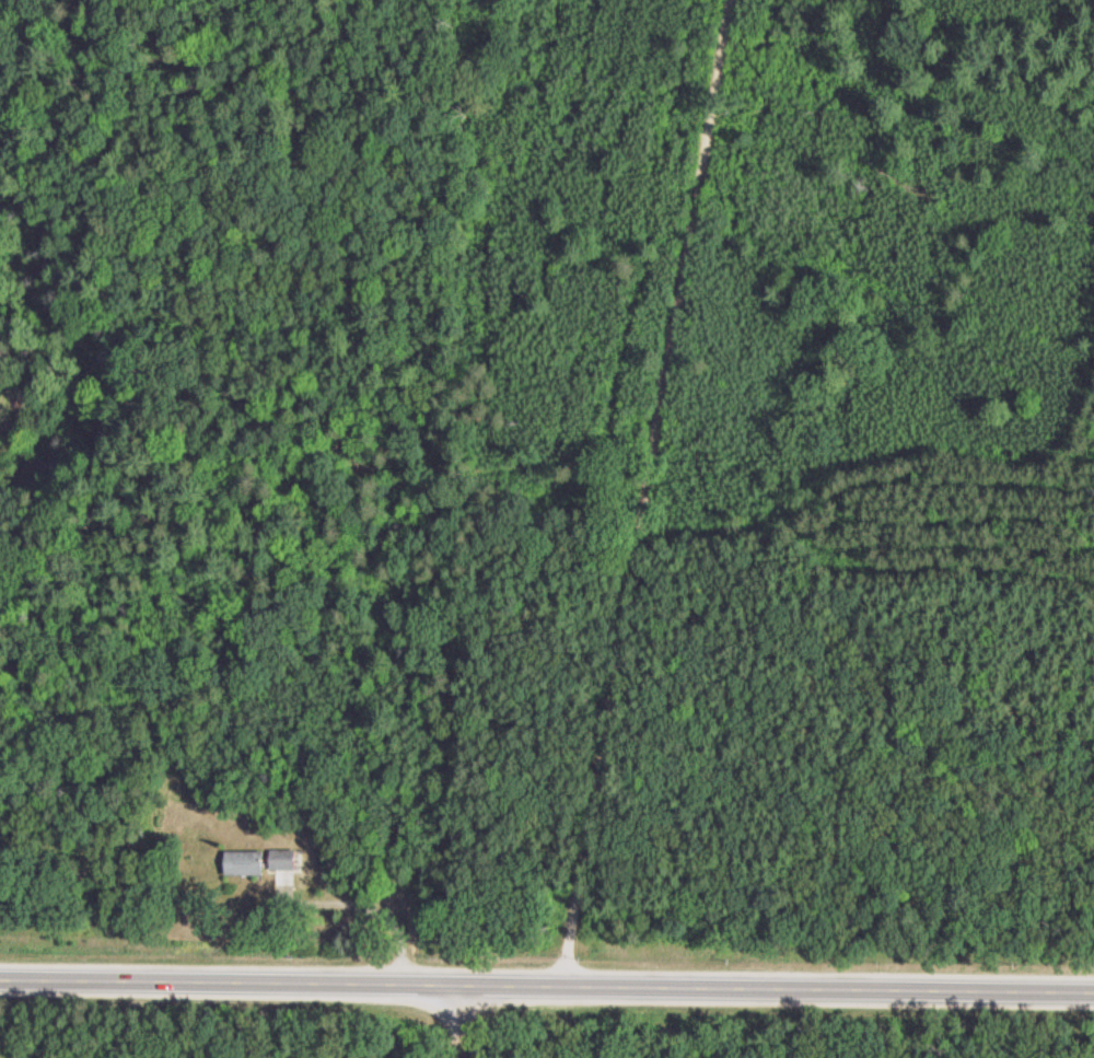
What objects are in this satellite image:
road: (631, 492)
building: (283, 860)
building: (245, 863)
road: (547, 984)
road: (464, 1021)

